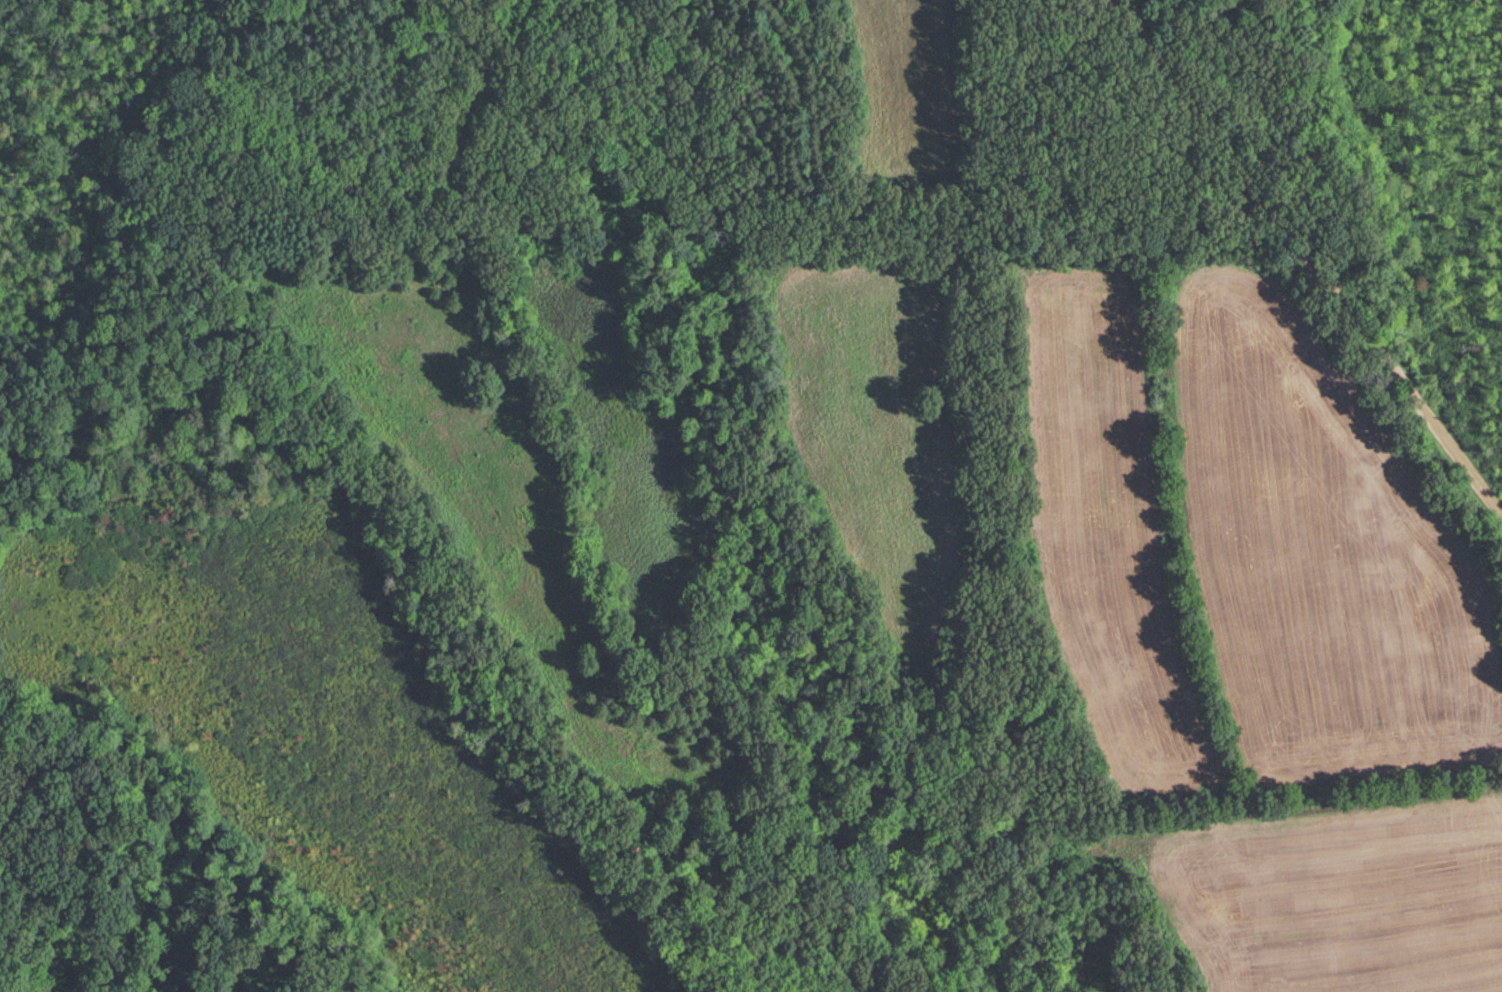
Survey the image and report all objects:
road: (1311, 255)

